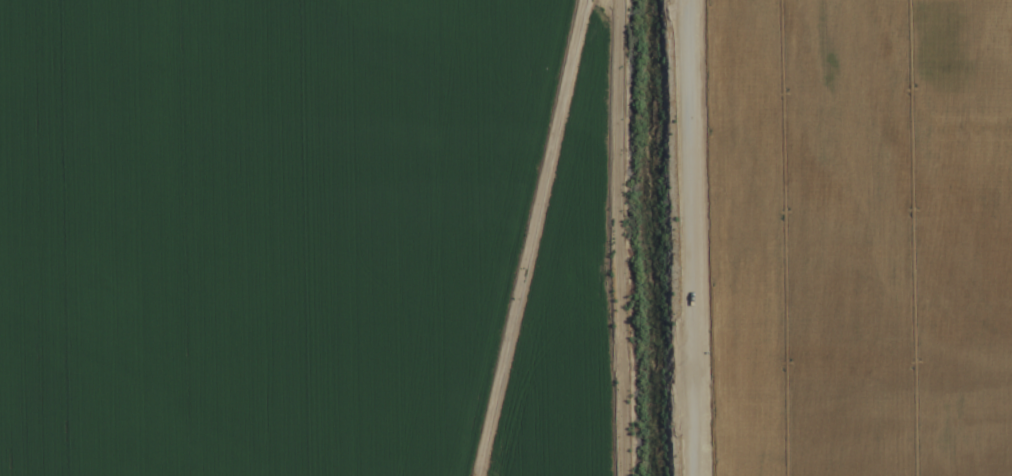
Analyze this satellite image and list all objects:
crop: (506, 238)

